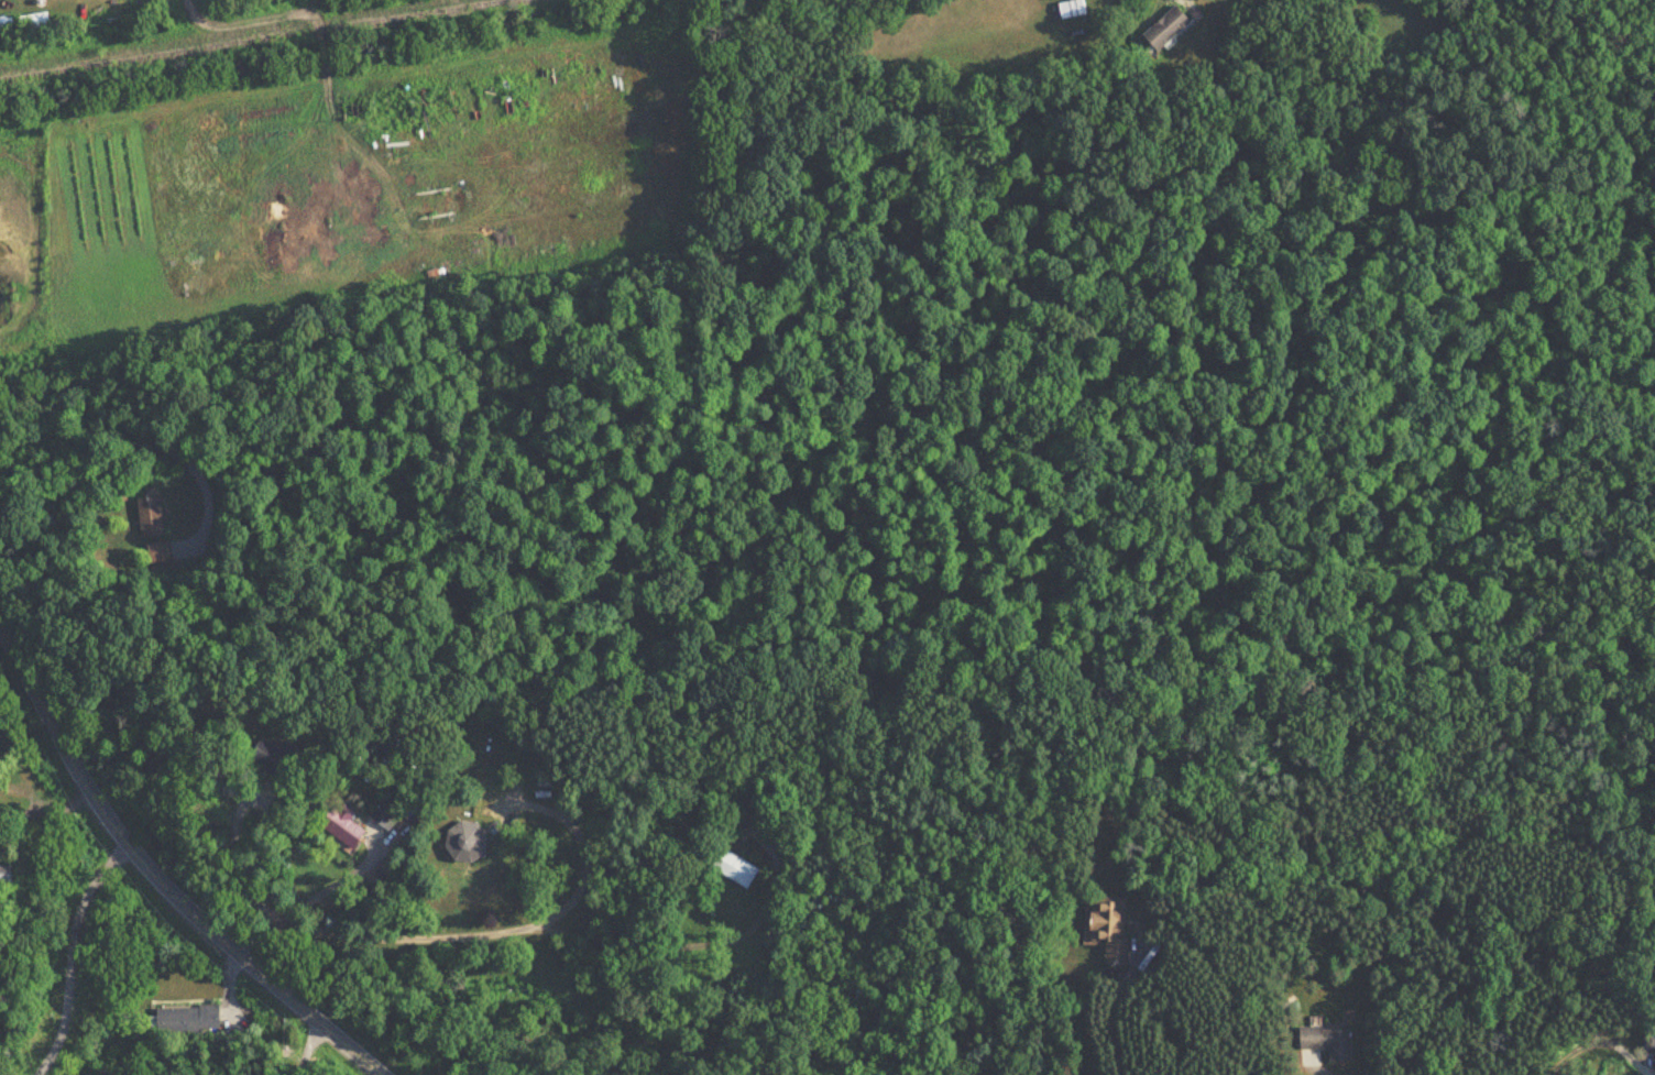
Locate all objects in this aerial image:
building: (22, 25)
building: (1163, 28)
road: (144, 440)
building: (149, 517)
building: (157, 552)
building: (267, 757)
building: (218, 776)
road: (46, 808)
building: (386, 810)
building: (743, 815)
building: (340, 825)
building: (463, 843)
road: (239, 860)
building: (732, 868)
building: (4, 877)
road: (156, 878)
road: (329, 886)
building: (1108, 920)
road: (495, 930)
road: (257, 936)
road: (86, 962)
building: (186, 1019)
building: (1326, 1041)
road: (307, 1046)

